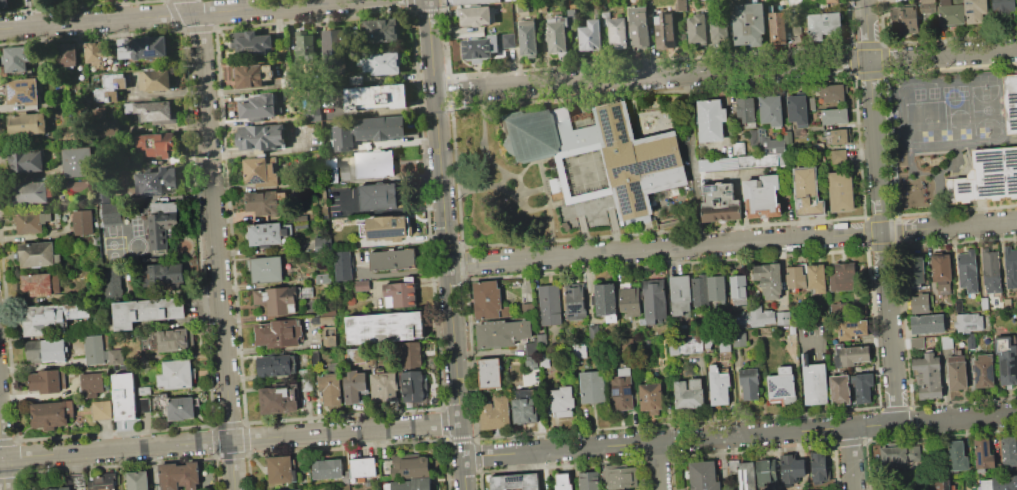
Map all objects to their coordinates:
building: (39, 0)
building: (510, 0)
building: (928, 0)
building: (470, 1)
building: (832, 1)
building: (4, 4)
building: (539, 4)
building: (680, 5)
building: (796, 5)
building: (1003, 6)
building: (975, 11)
building: (951, 12)
road: (184, 15)
building: (477, 16)
building: (908, 20)
building: (749, 24)
building: (823, 24)
building: (777, 28)
building: (638, 29)
building: (697, 29)
building: (719, 29)
building: (383, 30)
building: (616, 30)
building: (664, 31)
building: (467, 32)
building: (559, 34)
building: (590, 35)
building: (527, 38)
building: (508, 42)
building: (254, 43)
building: (306, 45)
building: (147, 48)
building: (479, 48)
building: (333, 53)
building: (97, 54)
building: (66, 55)
building: (18, 58)
building: (381, 63)
road: (740, 69)
building: (226, 71)
building: (1016, 71)
building: (253, 76)
building: (155, 80)
road: (449, 87)
building: (110, 88)
building: (23, 91)
building: (832, 93)
building: (375, 97)
road: (450, 97)
building: (1010, 101)
building: (811, 103)
building: (314, 104)
building: (258, 107)
building: (746, 109)
building: (771, 110)
building: (797, 110)
building: (153, 112)
building: (835, 116)
building: (711, 119)
building: (27, 125)
building: (109, 128)
building: (816, 128)
building: (368, 132)
building: (837, 135)
building: (788, 137)
building: (261, 138)
building: (769, 143)
building: (157, 144)
building: (607, 151)
building: (839, 157)
building: (758, 160)
building: (27, 161)
building: (77, 162)
building: (375, 164)
building: (718, 164)
building: (261, 172)
building: (984, 177)
building: (156, 182)
building: (79, 186)
building: (840, 191)
building: (808, 192)
building: (32, 193)
building: (378, 195)
building: (762, 196)
building: (265, 202)
building: (720, 202)
building: (334, 203)
building: (165, 206)
road: (880, 211)
building: (113, 214)
building: (31, 221)
building: (301, 221)
building: (84, 222)
building: (387, 228)
building: (161, 230)
building: (266, 233)
building: (96, 241)
road: (215, 243)
building: (321, 243)
road: (732, 243)
road: (445, 245)
building: (38, 254)
building: (392, 259)
building: (343, 265)
building: (1011, 266)
building: (941, 268)
building: (266, 269)
building: (916, 270)
building: (967, 270)
building: (991, 270)
road: (403, 272)
building: (158, 275)
building: (843, 277)
building: (323, 278)
building: (796, 278)
building: (816, 278)
building: (769, 280)
building: (41, 283)
building: (111, 283)
building: (362, 286)
building: (715, 286)
building: (738, 289)
building: (699, 291)
building: (401, 292)
building: (680, 294)
building: (281, 298)
building: (488, 301)
building: (643, 301)
building: (575, 302)
building: (606, 302)
building: (985, 303)
building: (549, 304)
building: (921, 304)
building: (958, 306)
building: (850, 309)
building: (527, 310)
building: (147, 311)
building: (327, 312)
building: (756, 317)
building: (783, 318)
building: (39, 319)
building: (328, 320)
building: (968, 323)
building: (928, 324)
building: (385, 327)
building: (851, 329)
building: (595, 332)
building: (279, 333)
building: (503, 333)
building: (174, 339)
building: (739, 339)
building: (331, 341)
building: (708, 341)
building: (946, 342)
building: (918, 343)
building: (536, 344)
building: (687, 345)
building: (725, 346)
building: (579, 350)
building: (48, 352)
building: (101, 352)
building: (850, 354)
building: (357, 355)
building: (412, 355)
building: (1007, 359)
building: (544, 360)
building: (532, 363)
building: (276, 365)
building: (984, 371)
building: (305, 372)
building: (957, 372)
building: (490, 373)
building: (178, 374)
building: (928, 375)
building: (48, 381)
building: (413, 382)
building: (781, 383)
building: (92, 384)
building: (308, 384)
building: (815, 384)
building: (354, 385)
building: (384, 386)
building: (863, 386)
building: (592, 387)
building: (718, 387)
building: (331, 388)
building: (750, 388)
building: (839, 389)
building: (621, 390)
building: (144, 391)
building: (689, 393)
building: (125, 397)
building: (650, 398)
building: (279, 400)
building: (562, 402)
building: (144, 404)
building: (525, 407)
building: (182, 408)
building: (102, 409)
building: (496, 413)
building: (52, 414)
building: (78, 420)
road: (739, 435)
road: (230, 440)
building: (1008, 452)
building: (899, 453)
building: (983, 455)
building: (957, 456)
road: (851, 458)
road: (2, 460)
building: (733, 465)
road: (657, 466)
building: (363, 467)
building: (410, 467)
building: (819, 467)
building: (790, 468)
building: (281, 469)
building: (329, 469)
building: (179, 475)
building: (620, 476)
building: (704, 476)
building: (746, 476)
building: (769, 477)
building: (138, 480)
building: (515, 481)
building: (589, 481)
building: (72, 482)
building: (563, 482)
building: (103, 483)
building: (1000, 483)
building: (410, 484)
building: (938, 485)
building: (952, 487)
building: (295, 489)

